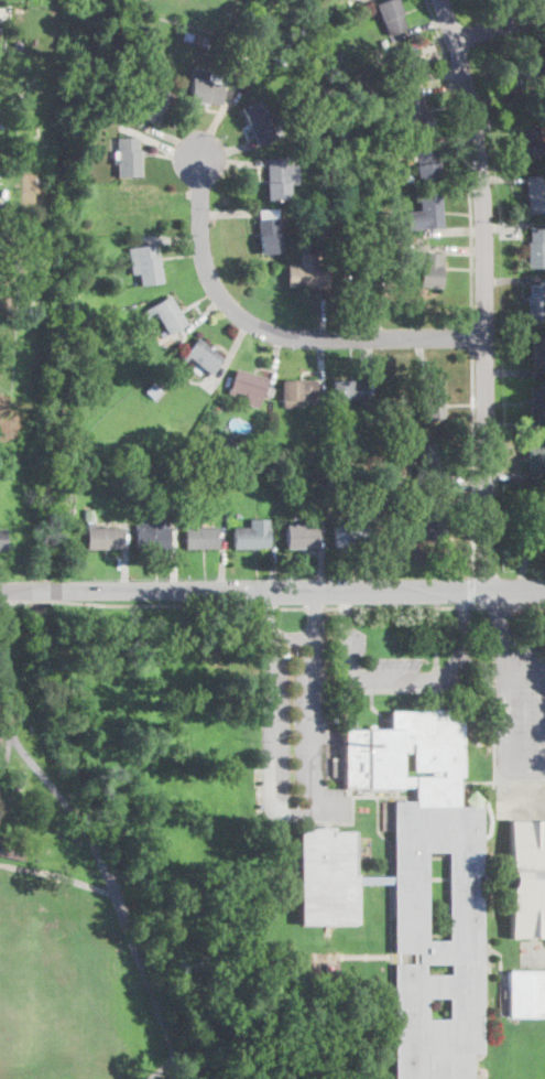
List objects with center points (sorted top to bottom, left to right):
road: (8, 9)
building: (319, 13)
building: (390, 17)
building: (240, 21)
road: (499, 25)
building: (31, 26)
road: (417, 29)
building: (283, 37)
building: (198, 40)
building: (335, 56)
building: (280, 58)
building: (255, 60)
building: (406, 63)
building: (524, 73)
building: (133, 74)
road: (433, 76)
building: (348, 84)
road: (433, 85)
building: (206, 93)
building: (88, 97)
road: (493, 99)
building: (153, 102)
building: (417, 117)
building: (90, 118)
road: (218, 120)
building: (258, 123)
road: (500, 125)
road: (165, 134)
building: (91, 136)
road: (446, 138)
building: (348, 141)
building: (528, 142)
road: (161, 144)
road: (227, 152)
building: (328, 153)
building: (128, 158)
road: (464, 159)
road: (232, 164)
building: (426, 164)
building: (363, 170)
building: (280, 177)
road: (502, 180)
road: (161, 191)
building: (535, 194)
building: (9, 207)
building: (131, 207)
building: (426, 213)
road: (228, 215)
building: (305, 218)
road: (514, 227)
road: (451, 230)
building: (268, 231)
building: (326, 234)
road: (170, 237)
building: (375, 244)
building: (397, 248)
building: (536, 248)
road: (446, 249)
building: (145, 265)
building: (430, 271)
building: (306, 272)
building: (359, 274)
road: (515, 279)
building: (115, 283)
road: (486, 292)
building: (536, 302)
building: (8, 303)
road: (380, 313)
building: (166, 314)
road: (326, 314)
road: (199, 317)
road: (275, 333)
road: (472, 336)
building: (537, 350)
road: (229, 355)
building: (203, 356)
road: (422, 358)
road: (274, 363)
road: (370, 364)
road: (321, 365)
road: (514, 371)
building: (159, 384)
building: (247, 384)
building: (348, 389)
building: (297, 391)
building: (430, 400)
building: (536, 403)
building: (386, 418)
road: (515, 428)
building: (218, 443)
building: (228, 443)
building: (321, 452)
building: (333, 453)
building: (309, 454)
building: (536, 455)
road: (473, 462)
building: (432, 465)
building: (257, 467)
building: (296, 472)
building: (167, 475)
building: (286, 475)
road: (467, 478)
road: (514, 478)
building: (334, 479)
building: (380, 510)
building: (88, 515)
building: (429, 524)
building: (151, 530)
building: (538, 530)
building: (348, 535)
building: (252, 536)
building: (200, 537)
building: (302, 537)
building: (102, 538)
building: (2, 540)
road: (462, 546)
road: (174, 559)
road: (525, 559)
road: (124, 560)
road: (222, 560)
road: (273, 560)
road: (324, 563)
road: (367, 570)
road: (471, 590)
road: (272, 592)
road: (528, 604)
road: (129, 605)
road: (314, 606)
road: (403, 606)
road: (499, 606)
road: (268, 607)
road: (293, 607)
road: (345, 607)
road: (266, 614)
road: (315, 614)
road: (503, 622)
road: (292, 638)
road: (464, 647)
parking lot: (373, 661)
road: (362, 678)
road: (401, 688)
road: (373, 709)
road: (505, 709)
parking lot: (521, 712)
parking lot: (296, 735)
road: (6, 753)
road: (478, 784)
road: (492, 788)
road: (383, 795)
building: (470, 796)
road: (295, 811)
road: (344, 822)
road: (84, 832)
building: (13, 849)
road: (57, 876)
building: (426, 887)
road: (390, 904)
park: (68, 905)
road: (501, 962)
building: (526, 992)
road: (172, 999)
park: (46, 1019)
road: (486, 1026)

